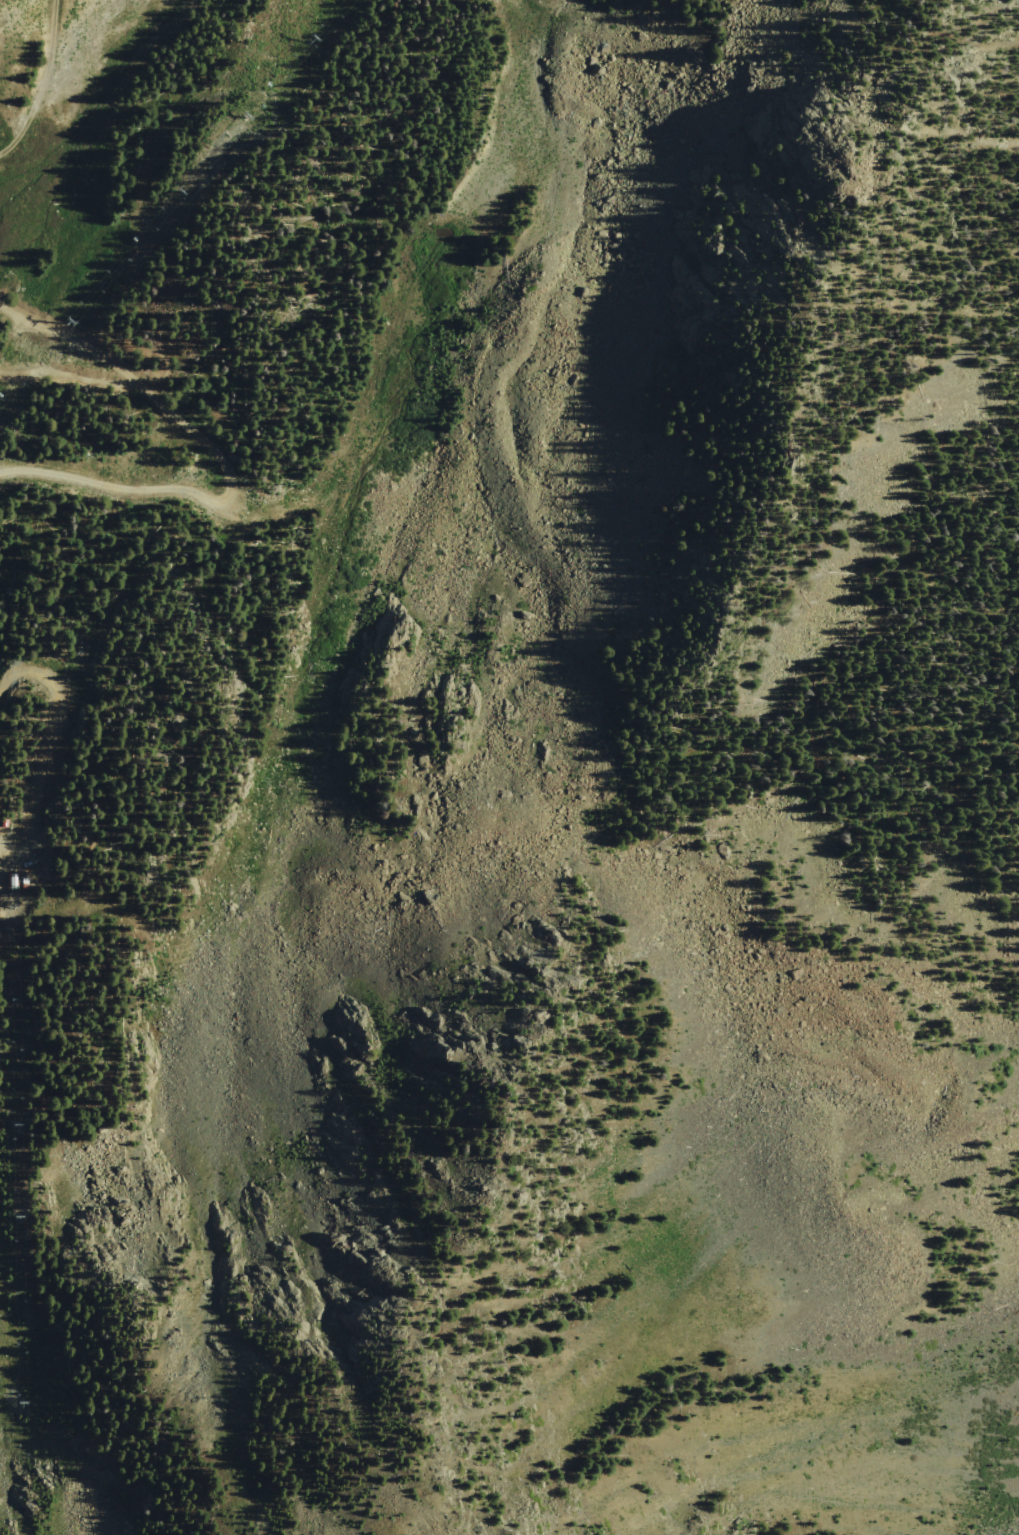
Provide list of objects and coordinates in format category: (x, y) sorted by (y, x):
aerialway pylon: (300, 31)
road: (47, 85)
aerialway pylon: (235, 105)
aerialway pylon: (156, 195)
aerialway pylon: (53, 312)
road: (216, 457)
road: (156, 627)
ski resort: (339, 654)
road: (55, 738)
building: (8, 822)
road: (1, 853)
building: (18, 881)
aerialway pylon: (22, 920)
aerialway pylon: (24, 1132)
aerialway pylon: (25, 1228)
aerialway pylon: (28, 1409)

